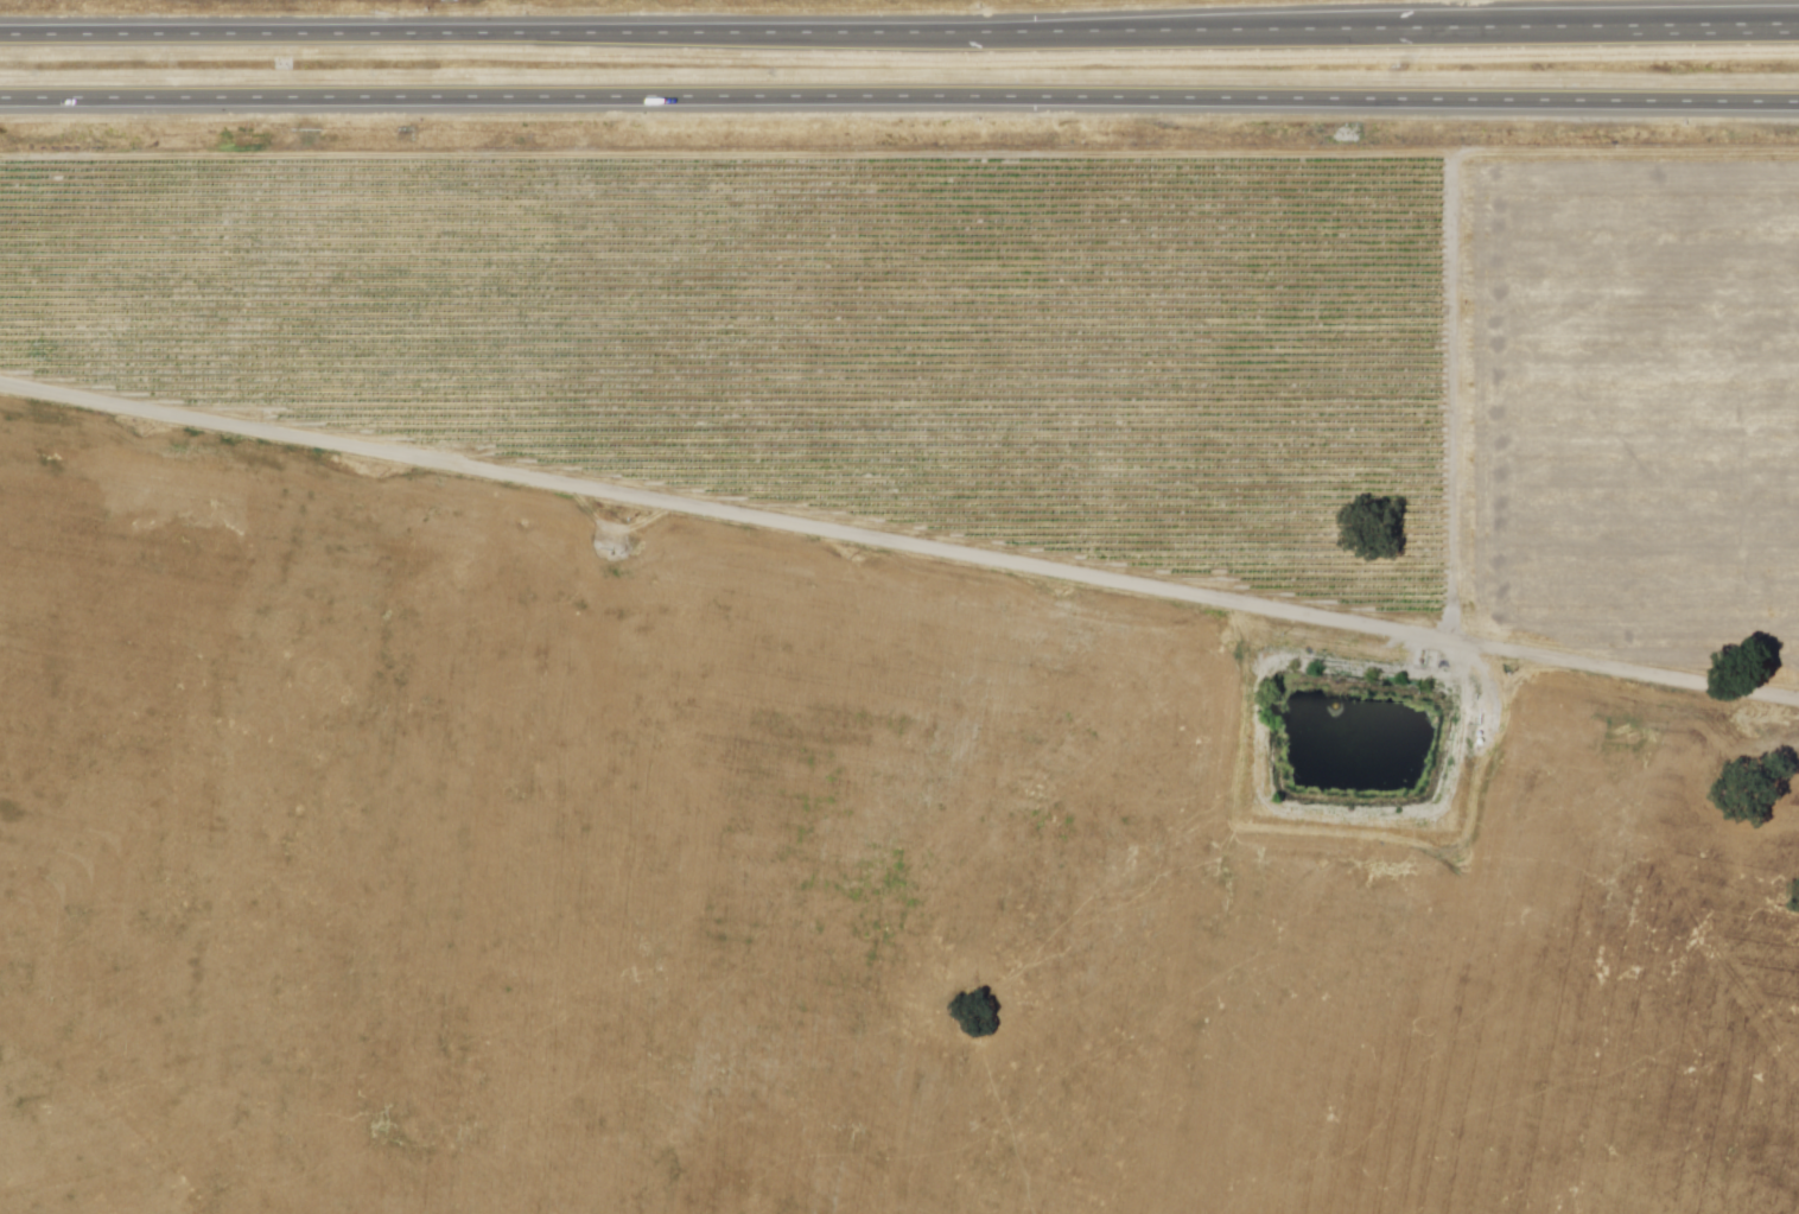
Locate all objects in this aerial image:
road: (898, 42)
road: (899, 98)
road: (898, 538)
crop: (802, 894)

